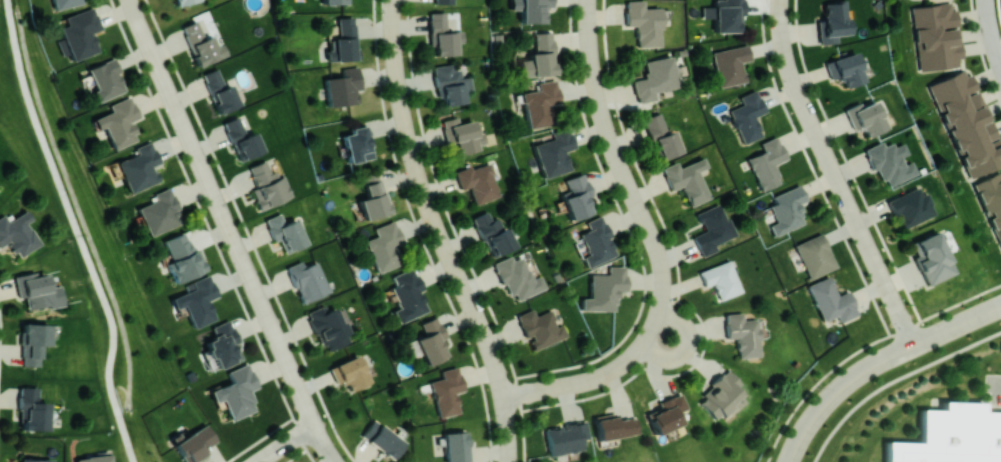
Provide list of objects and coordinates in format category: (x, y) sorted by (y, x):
building: (185, 1)
building: (334, 1)
building: (443, 1)
building: (65, 3)
building: (531, 9)
building: (728, 15)
building: (832, 22)
building: (642, 23)
road: (991, 31)
building: (80, 33)
building: (442, 35)
building: (936, 36)
building: (344, 39)
building: (200, 44)
building: (539, 56)
building: (730, 64)
building: (845, 69)
building: (105, 79)
building: (450, 84)
building: (343, 87)
building: (219, 91)
building: (539, 103)
building: (747, 116)
building: (866, 118)
building: (967, 121)
building: (118, 122)
building: (462, 134)
building: (660, 136)
building: (242, 139)
building: (357, 144)
building: (552, 153)
building: (890, 161)
building: (767, 163)
building: (138, 167)
road: (622, 167)
road: (836, 175)
building: (686, 179)
building: (478, 182)
building: (267, 185)
building: (372, 196)
building: (576, 196)
building: (992, 202)
building: (911, 206)
building: (787, 210)
building: (159, 211)
road: (222, 212)
building: (711, 229)
road: (79, 230)
building: (285, 231)
building: (17, 233)
road: (441, 233)
building: (493, 233)
building: (596, 240)
building: (384, 246)
building: (814, 255)
building: (182, 256)
building: (931, 257)
building: (517, 277)
building: (720, 279)
building: (307, 280)
building: (604, 289)
building: (36, 290)
building: (407, 295)
building: (197, 300)
building: (831, 300)
road: (1000, 306)
building: (328, 327)
building: (540, 327)
building: (742, 334)
building: (431, 341)
building: (32, 342)
building: (222, 344)
road: (688, 346)
road: (877, 363)
building: (349, 372)
building: (994, 379)
road: (587, 380)
road: (1000, 384)
parking lot: (996, 390)
building: (236, 391)
building: (446, 391)
road: (483, 392)
building: (719, 395)
building: (31, 410)
building: (667, 413)
building: (613, 426)
building: (953, 436)
building: (565, 437)
building: (382, 439)
road: (286, 443)
road: (325, 443)
building: (194, 444)
building: (455, 446)
building: (92, 458)
building: (30, 460)

